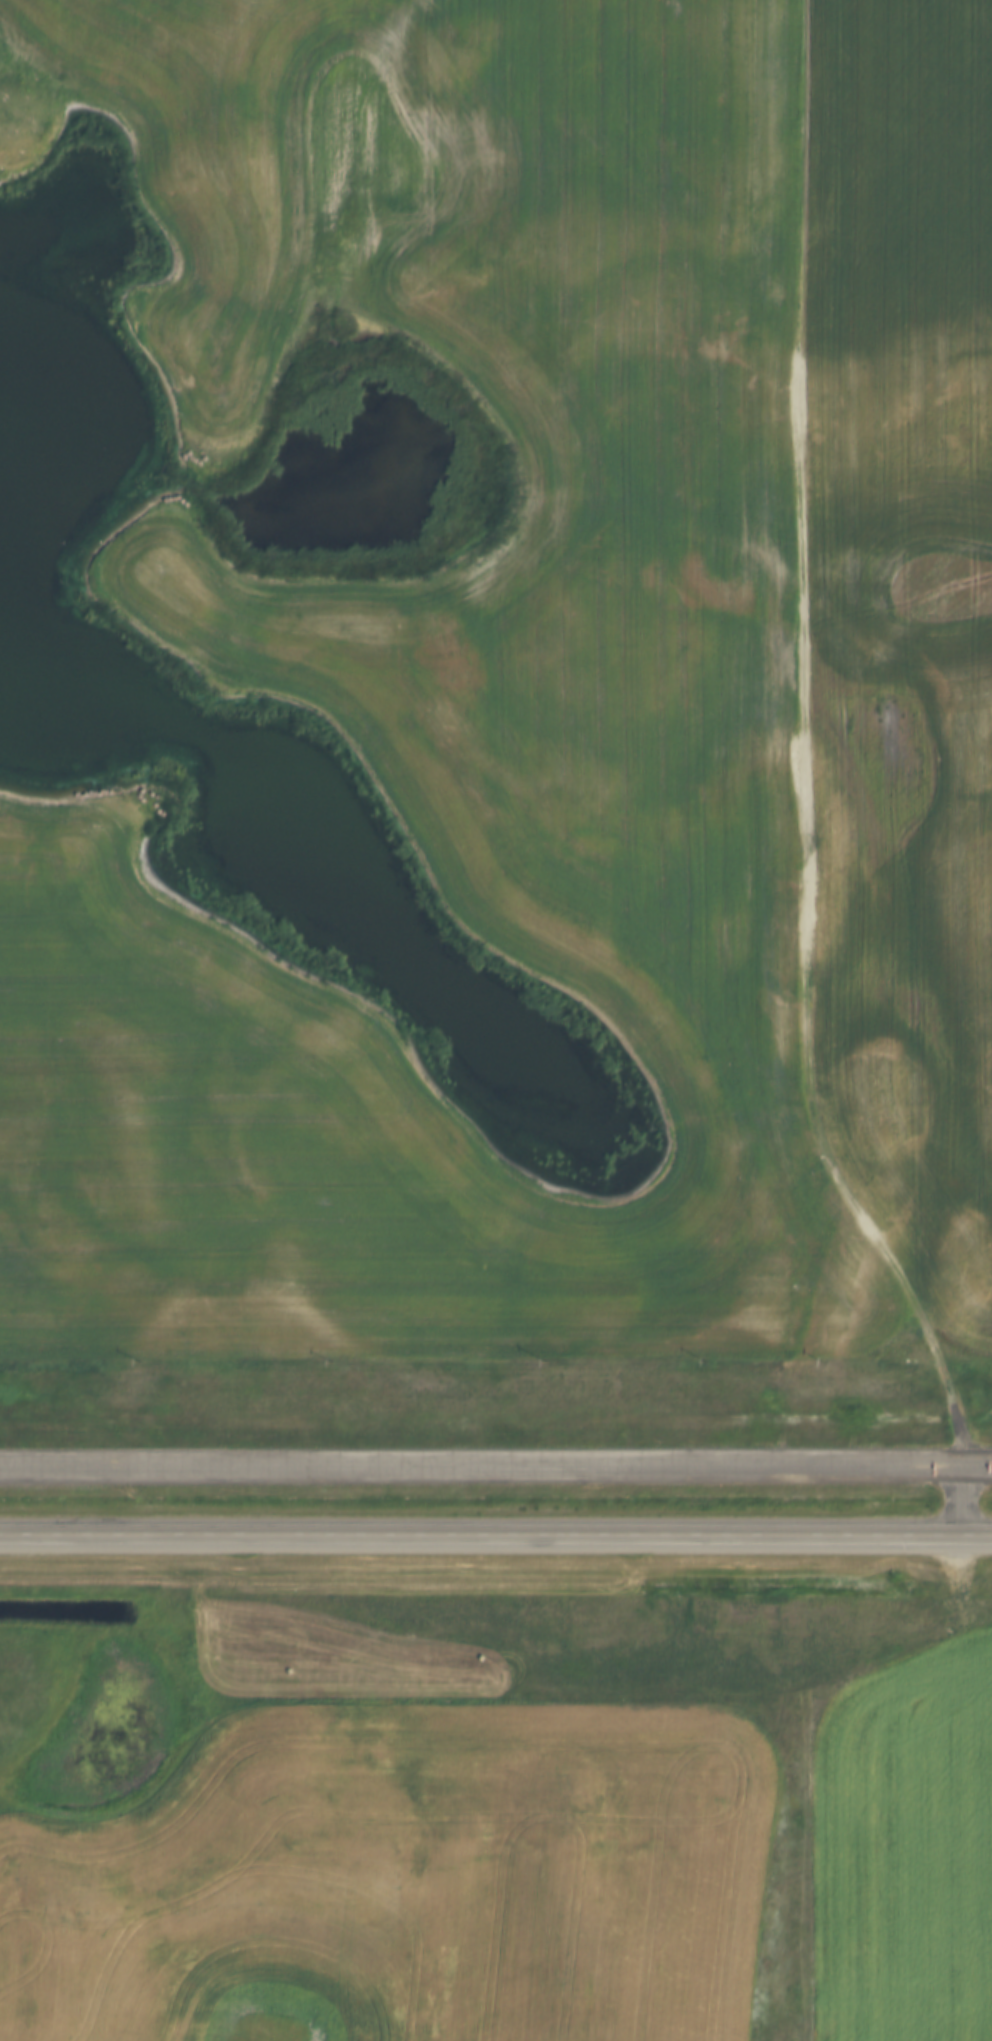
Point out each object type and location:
road: (803, 755)
road: (495, 1471)
road: (962, 1502)
road: (495, 1533)

